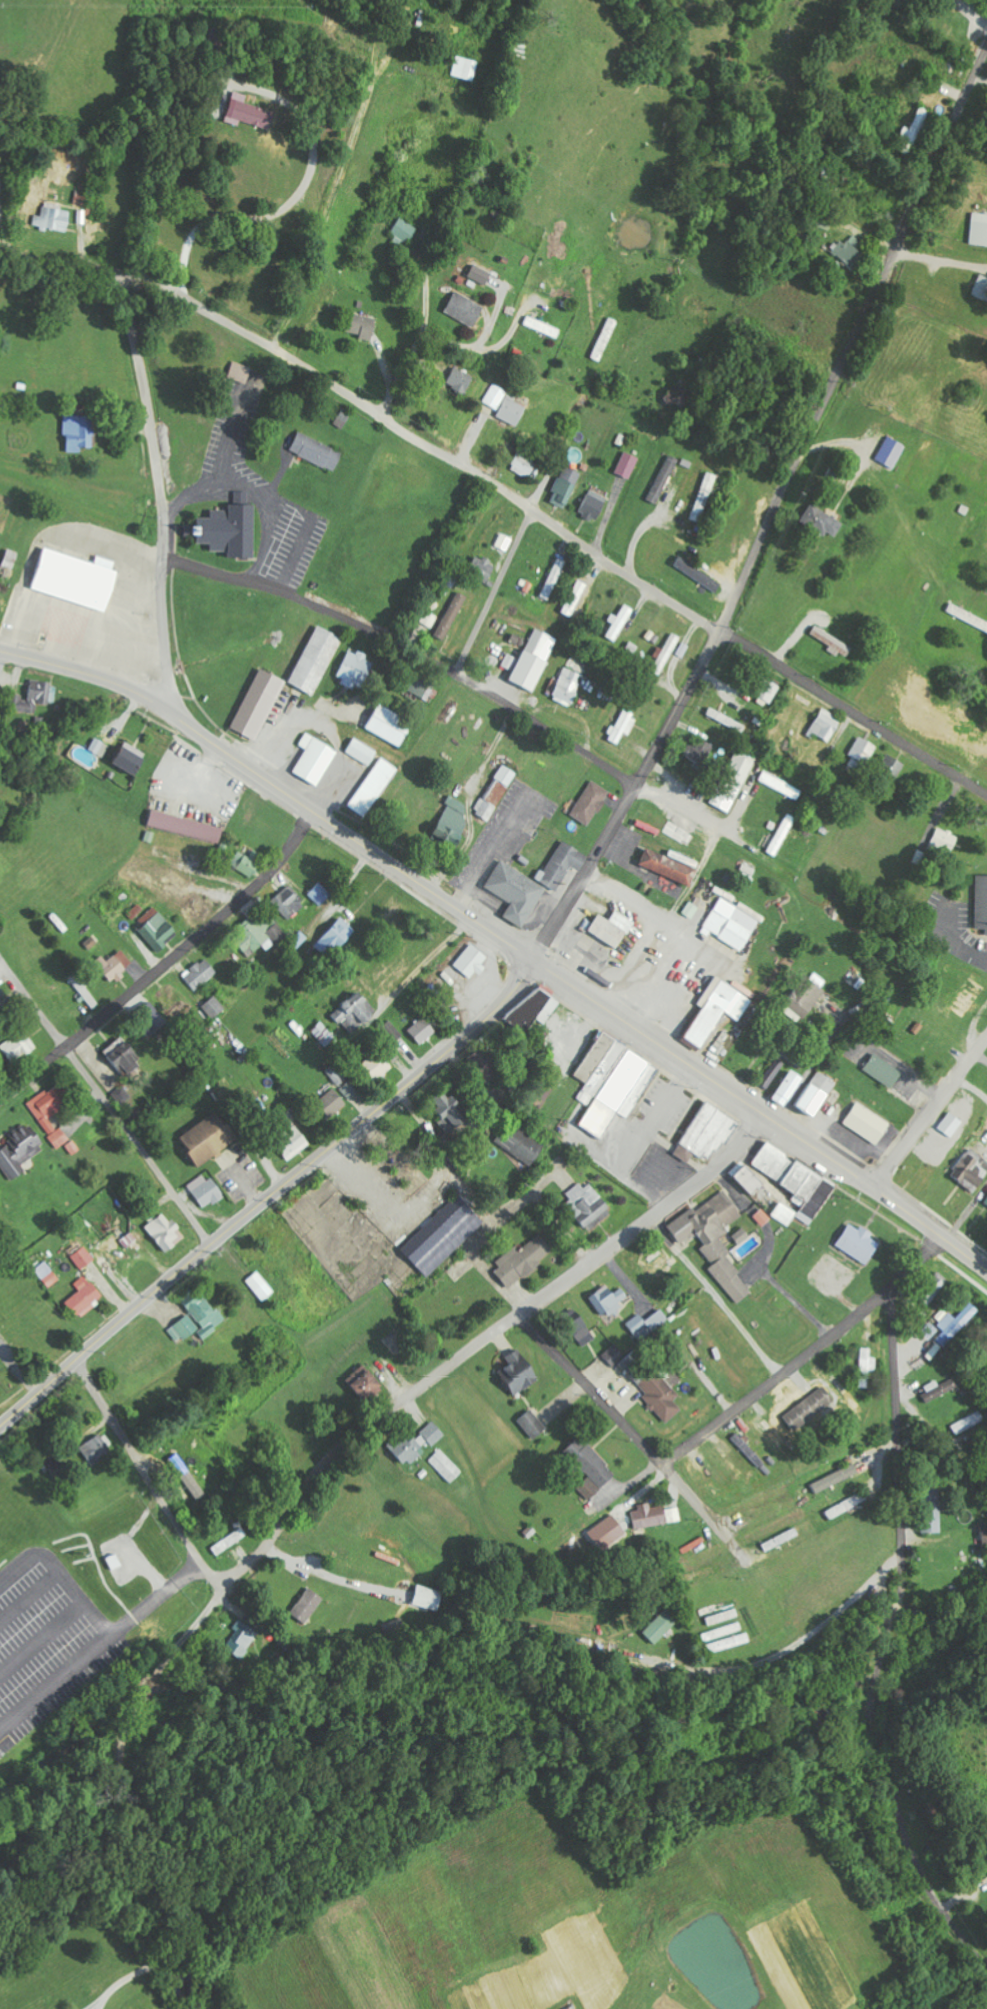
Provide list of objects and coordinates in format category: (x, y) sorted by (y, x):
building: (461, 69)
building: (250, 112)
building: (910, 132)
building: (66, 176)
building: (81, 197)
building: (55, 218)
building: (979, 229)
building: (404, 230)
building: (849, 251)
road: (102, 266)
building: (481, 274)
building: (981, 287)
building: (465, 309)
building: (362, 325)
building: (543, 327)
road: (917, 367)
building: (241, 372)
building: (460, 379)
building: (505, 405)
building: (80, 431)
building: (318, 451)
building: (892, 451)
building: (628, 464)
building: (524, 465)
building: (663, 479)
building: (566, 486)
road: (164, 488)
building: (702, 497)
building: (594, 504)
road: (773, 510)
building: (823, 520)
road: (554, 524)
park: (396, 527)
building: (230, 530)
building: (12, 559)
building: (482, 568)
building: (75, 579)
building: (555, 579)
road: (494, 590)
building: (452, 616)
building: (619, 622)
building: (835, 642)
road: (412, 651)
building: (666, 653)
building: (317, 660)
building: (534, 660)
building: (356, 669)
building: (421, 685)
building: (568, 686)
building: (767, 690)
building: (36, 696)
building: (259, 704)
building: (726, 719)
building: (391, 726)
building: (624, 726)
building: (827, 726)
building: (100, 747)
building: (704, 750)
building: (362, 752)
building: (862, 753)
building: (131, 757)
building: (316, 759)
building: (890, 769)
building: (734, 780)
building: (779, 785)
road: (275, 787)
building: (374, 787)
building: (497, 792)
building: (592, 803)
building: (451, 823)
building: (187, 826)
building: (782, 835)
building: (944, 840)
building: (654, 851)
building: (248, 862)
building: (563, 864)
building: (518, 892)
building: (321, 894)
building: (982, 902)
building: (289, 903)
building: (691, 910)
building: (734, 923)
building: (160, 931)
building: (618, 931)
building: (259, 932)
building: (336, 938)
road: (163, 961)
building: (473, 962)
building: (117, 965)
building: (201, 974)
building: (85, 991)
building: (807, 997)
building: (971, 997)
building: (4, 1004)
building: (215, 1007)
building: (535, 1008)
building: (356, 1012)
building: (717, 1013)
building: (151, 1019)
building: (424, 1030)
building: (324, 1034)
road: (646, 1038)
building: (17, 1048)
building: (127, 1057)
building: (483, 1062)
building: (885, 1071)
building: (336, 1075)
building: (613, 1082)
building: (790, 1088)
building: (349, 1090)
building: (817, 1094)
building: (333, 1101)
building: (52, 1112)
road: (115, 1112)
building: (449, 1112)
road: (929, 1112)
building: (868, 1123)
building: (952, 1125)
building: (708, 1134)
building: (209, 1139)
building: (521, 1143)
building: (296, 1146)
building: (20, 1152)
building: (971, 1170)
building: (749, 1179)
building: (798, 1180)
building: (207, 1190)
road: (875, 1190)
road: (270, 1196)
building: (588, 1205)
building: (785, 1214)
road: (966, 1214)
building: (763, 1218)
building: (166, 1233)
building: (444, 1235)
building: (743, 1236)
building: (130, 1239)
building: (716, 1240)
building: (860, 1244)
building: (84, 1259)
building: (524, 1261)
building: (48, 1274)
building: (261, 1286)
building: (931, 1289)
building: (85, 1297)
building: (609, 1301)
building: (197, 1318)
building: (954, 1323)
building: (648, 1324)
building: (0, 1330)
building: (930, 1330)
building: (580, 1331)
road: (486, 1339)
building: (614, 1355)
building: (865, 1367)
building: (520, 1372)
building: (654, 1384)
building: (370, 1385)
building: (942, 1388)
road: (725, 1417)
building: (967, 1423)
building: (533, 1424)
building: (434, 1433)
building: (769, 1435)
building: (99, 1448)
building: (408, 1450)
building: (592, 1463)
building: (446, 1466)
road: (146, 1474)
building: (837, 1478)
building: (852, 1502)
building: (932, 1509)
building: (649, 1516)
building: (231, 1538)
building: (428, 1598)
building: (308, 1606)
building: (661, 1627)
building: (241, 1639)
road: (885, 1642)

